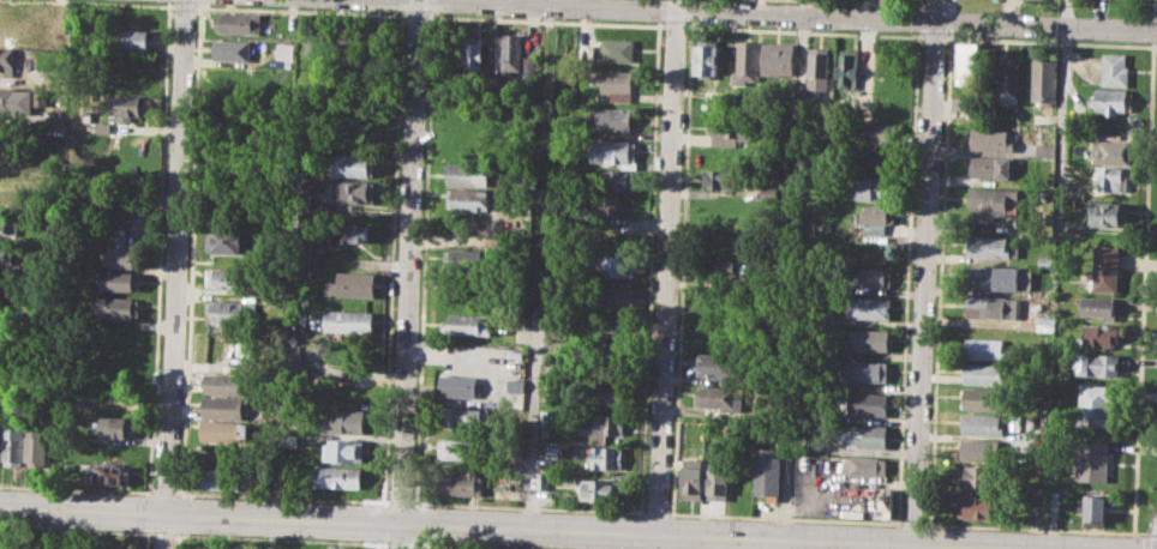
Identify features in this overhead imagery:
road: (1153, 10)
road: (814, 14)
building: (238, 22)
road: (1152, 30)
building: (11, 35)
building: (130, 40)
building: (619, 49)
building: (232, 50)
building: (510, 50)
building: (473, 56)
building: (706, 58)
building: (778, 60)
building: (7, 62)
building: (747, 62)
building: (967, 64)
building: (817, 68)
building: (846, 68)
building: (1115, 70)
building: (1008, 79)
building: (1043, 80)
road: (1062, 80)
building: (616, 84)
building: (10, 101)
building: (1110, 101)
building: (126, 107)
building: (613, 117)
building: (54, 122)
building: (472, 123)
building: (100, 127)
building: (732, 129)
building: (879, 132)
building: (991, 138)
building: (467, 146)
building: (1043, 150)
building: (613, 151)
building: (1110, 151)
building: (881, 159)
building: (354, 163)
building: (990, 167)
building: (466, 174)
building: (8, 176)
building: (721, 177)
building: (617, 180)
building: (1107, 181)
building: (876, 189)
building: (359, 191)
building: (469, 199)
building: (988, 203)
building: (616, 205)
building: (1109, 213)
building: (876, 217)
building: (6, 225)
building: (350, 233)
building: (619, 235)
building: (224, 240)
building: (989, 247)
building: (7, 253)
building: (124, 258)
building: (463, 259)
building: (1044, 261)
building: (621, 265)
road: (540, 266)
building: (721, 266)
building: (1104, 269)
road: (793, 270)
building: (302, 272)
road: (172, 274)
road: (408, 274)
road: (667, 274)
road: (923, 274)
building: (224, 277)
building: (873, 277)
building: (994, 277)
building: (115, 280)
building: (352, 284)
road: (1141, 292)
building: (613, 297)
building: (113, 307)
building: (869, 307)
building: (993, 307)
building: (1097, 307)
building: (230, 312)
building: (347, 320)
building: (827, 320)
building: (468, 322)
building: (714, 332)
building: (1101, 336)
building: (869, 339)
building: (985, 348)
building: (715, 364)
building: (1097, 364)
building: (867, 370)
building: (4, 373)
building: (984, 374)
building: (223, 382)
building: (516, 385)
building: (457, 386)
building: (606, 391)
building: (719, 398)
building: (983, 398)
building: (868, 404)
building: (1093, 405)
building: (223, 406)
building: (468, 417)
building: (547, 417)
building: (342, 421)
building: (983, 424)
building: (114, 427)
building: (604, 427)
building: (223, 430)
building: (0, 433)
building: (862, 435)
building: (14, 445)
building: (38, 446)
building: (342, 450)
building: (457, 450)
building: (982, 450)
building: (606, 458)
building: (1092, 460)
building: (867, 466)
building: (741, 467)
building: (768, 472)
building: (113, 473)
building: (981, 476)
building: (220, 477)
building: (337, 477)
building: (715, 478)
building: (541, 481)
building: (461, 482)
building: (690, 482)
street lamp: (152, 484)
road: (76, 488)
building: (598, 490)
road: (163, 491)
road: (281, 496)
road: (398, 501)
building: (885, 502)
building: (976, 505)
road: (527, 506)
building: (1096, 509)
road: (655, 512)
road: (785, 518)
road: (915, 523)
road: (490, 526)
street lamp: (46, 527)
street lamp: (1149, 527)
road: (1029, 529)
road: (76, 531)
street lamp: (140, 531)
street lamp: (180, 533)
road: (162, 535)
road: (1145, 536)
street lamp: (277, 537)
road: (528, 538)
road: (278, 539)
street lamp: (371, 542)
road: (395, 543)
street lamp: (173, 544)
street lamp: (455, 544)
building: (342, 547)
road: (468, 547)
street lamp: (553, 548)

